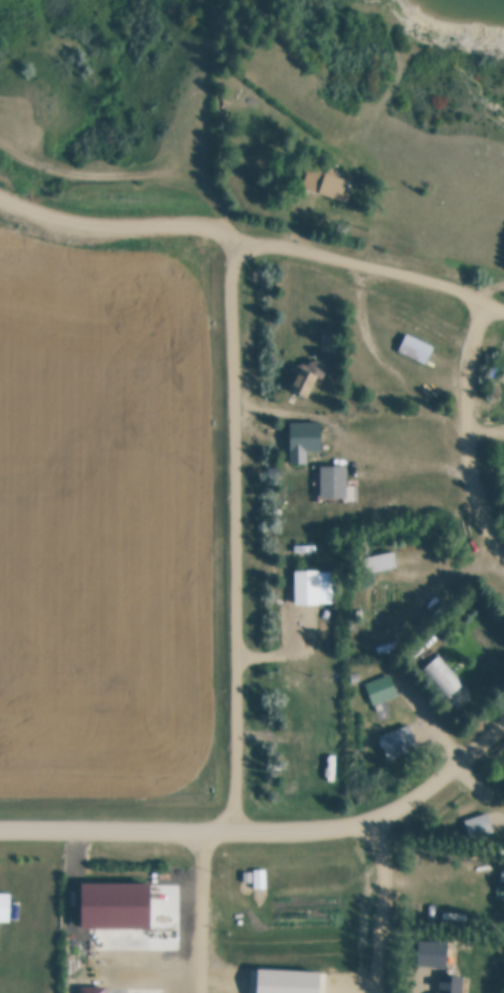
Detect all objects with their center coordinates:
road: (151, 168)
building: (324, 184)
road: (367, 290)
road: (496, 305)
building: (330, 341)
building: (416, 349)
building: (308, 377)
road: (271, 411)
road: (237, 414)
road: (466, 429)
building: (305, 441)
building: (334, 481)
building: (379, 563)
building: (314, 588)
building: (443, 677)
building: (382, 690)
building: (399, 743)
road: (385, 815)
building: (479, 827)
road: (119, 828)
building: (247, 878)
building: (259, 880)
building: (500, 891)
road: (389, 905)
building: (5, 908)
road: (206, 910)
building: (500, 915)
building: (432, 954)
building: (288, 981)
building: (451, 984)

